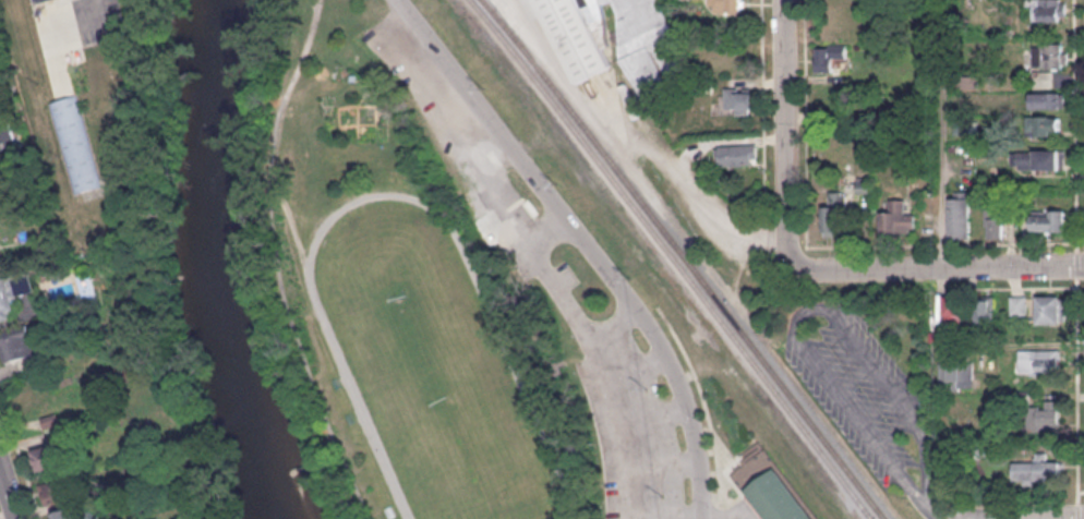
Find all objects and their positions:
building: (40, 0)
building: (725, 5)
road: (99, 10)
building: (1049, 10)
road: (293, 27)
building: (613, 35)
building: (1049, 53)
building: (829, 56)
building: (1041, 77)
parking lot: (423, 84)
road: (762, 89)
building: (1047, 99)
building: (739, 100)
road: (791, 118)
road: (1074, 124)
building: (1043, 125)
building: (72, 126)
building: (737, 154)
building: (1041, 159)
road: (1080, 166)
road: (688, 191)
road: (388, 194)
building: (835, 214)
building: (959, 216)
building: (898, 217)
building: (1048, 219)
building: (993, 222)
building: (495, 226)
road: (297, 228)
road: (582, 234)
road: (822, 244)
building: (0, 245)
railway: (673, 257)
railway: (685, 257)
building: (1, 258)
road: (931, 262)
road: (280, 264)
road: (1076, 264)
river: (217, 265)
road: (551, 269)
road: (1024, 287)
building: (13, 292)
park: (432, 292)
building: (1017, 303)
building: (953, 304)
building: (985, 309)
building: (1050, 309)
road: (814, 317)
road: (615, 323)
building: (17, 341)
road: (636, 361)
building: (1038, 361)
park: (431, 369)
building: (957, 374)
parking lot: (864, 388)
road: (1076, 390)
parking lot: (626, 396)
road: (704, 400)
road: (654, 412)
building: (1044, 417)
building: (51, 420)
road: (622, 423)
road: (21, 455)
building: (49, 457)
road: (664, 463)
building: (1035, 472)
building: (60, 491)
road: (1081, 491)
road: (8, 493)
building: (776, 497)
road: (706, 508)
road: (727, 510)
road: (1077, 510)
building: (77, 512)
road: (669, 514)
road: (944, 514)
road: (726, 516)
road: (1019, 516)
road: (955, 517)

